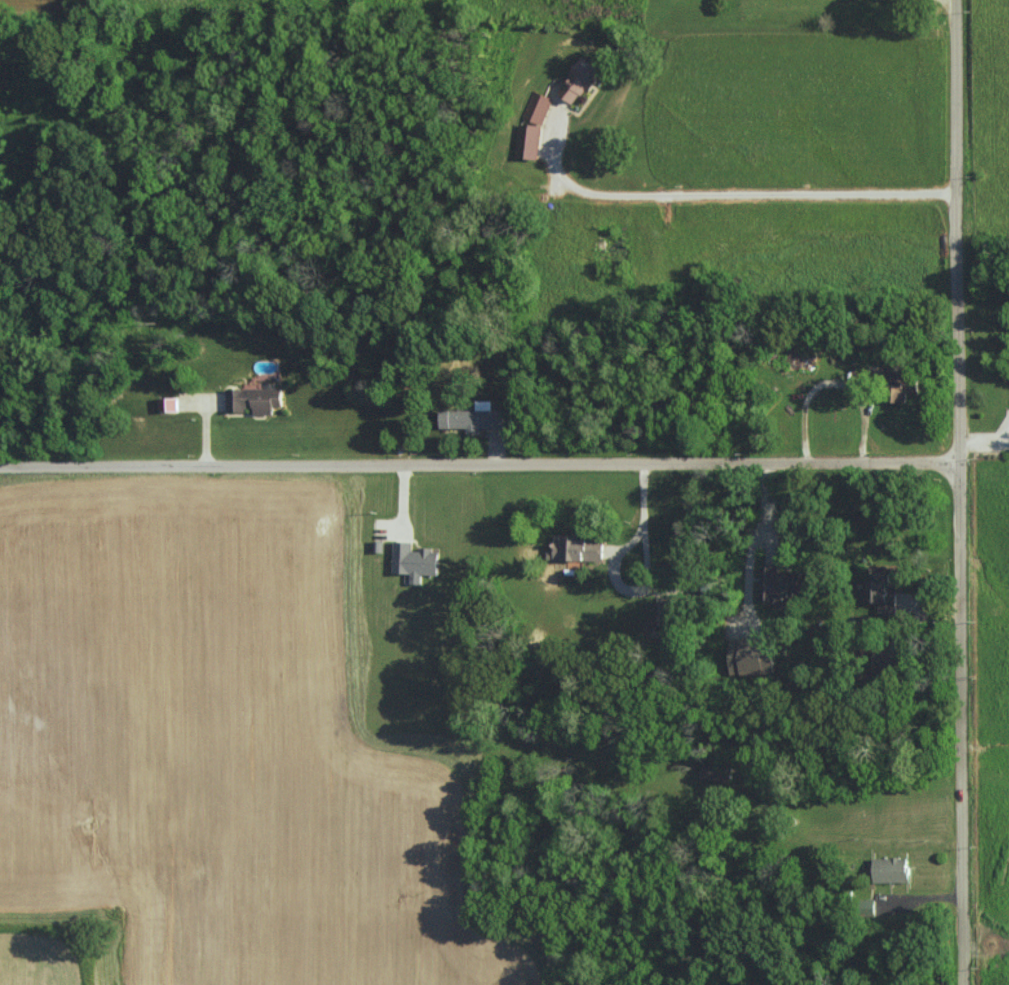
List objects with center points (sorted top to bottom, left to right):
road: (942, 5)
building: (578, 81)
building: (537, 107)
building: (528, 140)
road: (732, 196)
building: (904, 382)
building: (254, 399)
building: (168, 404)
building: (473, 418)
road: (478, 465)
road: (957, 492)
building: (578, 548)
building: (414, 560)
road: (646, 577)
building: (779, 583)
building: (880, 592)
building: (753, 656)
building: (890, 869)

